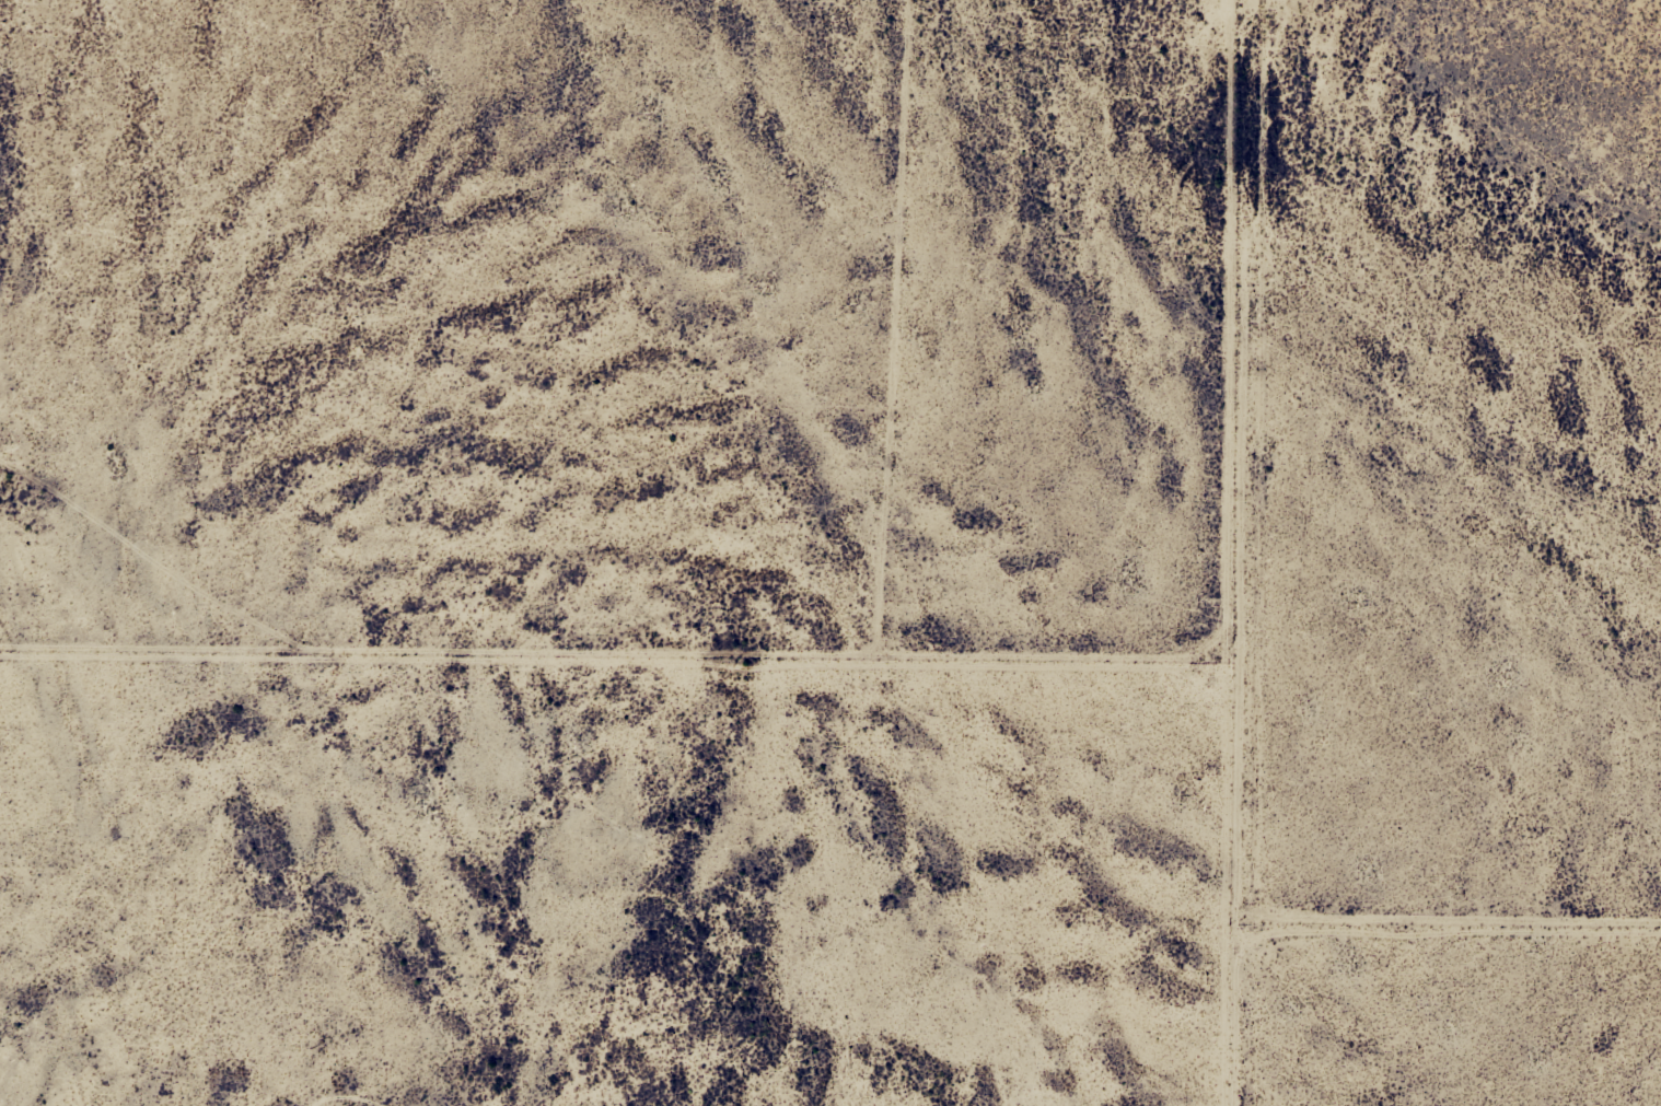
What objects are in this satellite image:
road: (1230, 668)

